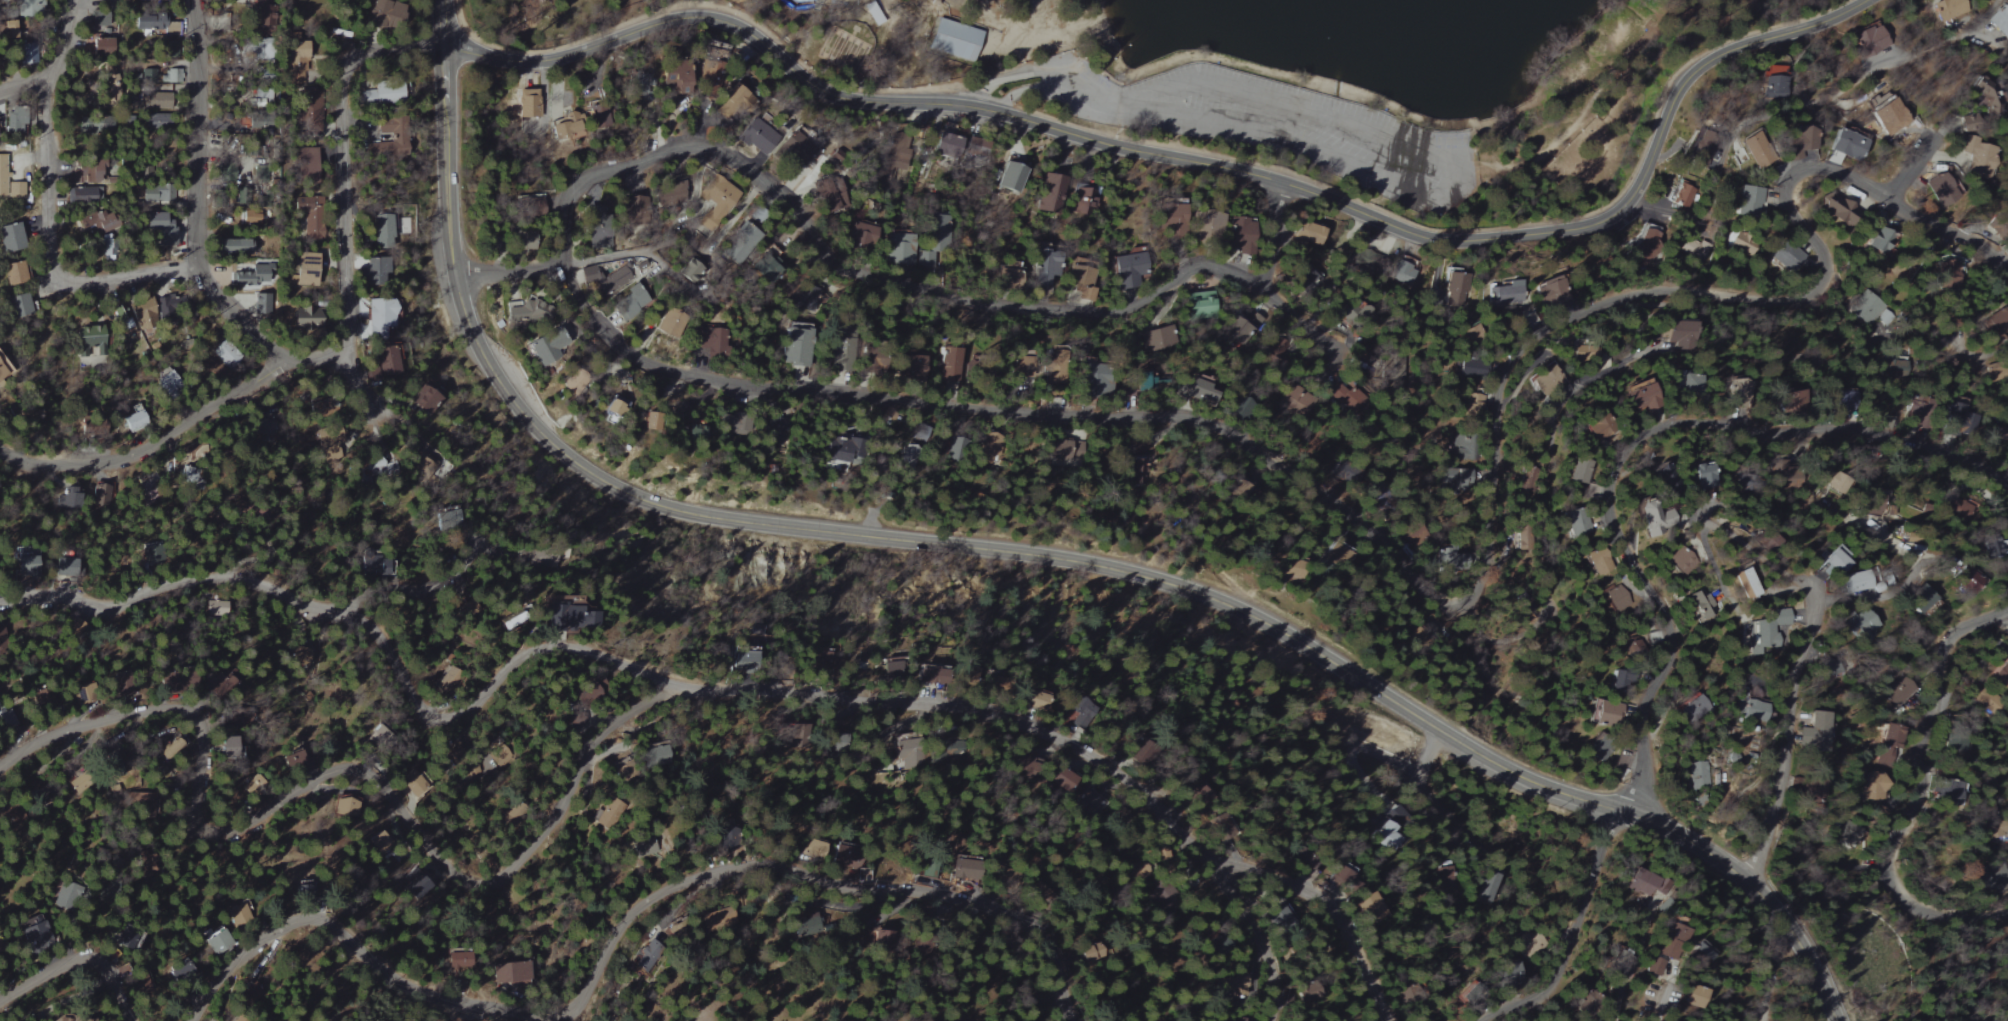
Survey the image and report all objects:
building: (158, 0)
building: (1949, 9)
building: (256, 11)
building: (384, 11)
road: (444, 19)
building: (2000, 20)
building: (96, 23)
building: (155, 24)
building: (955, 39)
building: (1869, 41)
building: (100, 47)
building: (293, 49)
road: (379, 51)
building: (26, 54)
building: (674, 73)
building: (152, 74)
road: (1043, 74)
building: (172, 76)
building: (709, 80)
park: (1272, 80)
road: (1597, 80)
building: (1775, 87)
road: (21, 89)
road: (1055, 90)
building: (380, 94)
building: (156, 98)
road: (1821, 98)
building: (1987, 99)
building: (525, 103)
building: (599, 117)
building: (1888, 117)
building: (15, 120)
building: (568, 125)
parking lot: (1259, 126)
road: (197, 133)
building: (757, 135)
building: (1806, 138)
building: (947, 142)
road: (1177, 145)
building: (392, 147)
building: (1846, 147)
building: (1699, 149)
building: (1757, 149)
road: (1194, 161)
building: (1983, 161)
road: (1465, 168)
building: (307, 170)
road: (1916, 171)
building: (84, 175)
road: (1450, 175)
building: (3, 176)
building: (16, 190)
building: (1941, 190)
building: (1053, 193)
building: (157, 194)
building: (84, 195)
building: (1683, 195)
building: (1085, 200)
building: (713, 202)
building: (1747, 202)
road: (46, 203)
building: (1836, 209)
building: (2003, 215)
building: (305, 218)
building: (1169, 220)
building: (97, 221)
building: (941, 226)
building: (1202, 226)
road: (344, 227)
building: (595, 227)
building: (158, 228)
building: (385, 230)
building: (1238, 233)
building: (746, 234)
road: (1271, 234)
building: (1306, 234)
building: (12, 237)
building: (1649, 240)
building: (1742, 242)
building: (1874, 242)
building: (234, 246)
building: (901, 249)
building: (1695, 250)
building: (1787, 256)
road: (609, 257)
building: (926, 260)
building: (1044, 268)
building: (1127, 268)
building: (371, 269)
building: (300, 270)
building: (1403, 272)
building: (1948, 272)
building: (17, 273)
road: (861, 274)
building: (250, 276)
building: (1081, 277)
building: (605, 278)
building: (1454, 290)
building: (1551, 292)
building: (1503, 294)
building: (629, 302)
building: (1199, 303)
building: (260, 304)
building: (22, 305)
building: (1864, 308)
building: (141, 310)
building: (525, 311)
building: (303, 317)
building: (380, 317)
building: (1883, 318)
road: (238, 320)
road: (1302, 320)
building: (669, 326)
building: (1678, 334)
building: (87, 339)
building: (1156, 339)
building: (710, 342)
building: (541, 346)
building: (795, 346)
building: (1585, 353)
building: (227, 355)
road: (317, 359)
building: (382, 363)
building: (950, 364)
building: (909, 366)
building: (1471, 369)
building: (1054, 372)
building: (2, 373)
building: (1140, 380)
building: (1544, 380)
building: (1690, 384)
building: (163, 385)
building: (1198, 391)
building: (1736, 391)
building: (1643, 398)
building: (1839, 399)
road: (366, 401)
building: (1918, 409)
building: (1958, 420)
building: (134, 421)
building: (723, 425)
building: (1603, 427)
building: (267, 431)
building: (680, 433)
building: (331, 437)
road: (152, 444)
building: (950, 444)
building: (989, 445)
building: (1462, 446)
building: (837, 450)
building: (376, 465)
building: (1581, 470)
building: (1138, 472)
building: (1530, 476)
building: (1703, 477)
building: (1456, 478)
building: (1664, 480)
building: (103, 495)
building: (71, 497)
building: (1871, 503)
building: (1960, 509)
building: (1652, 519)
building: (1577, 522)
road: (1725, 527)
building: (1416, 535)
building: (1525, 540)
building: (1338, 554)
road: (1045, 556)
building: (550, 557)
building: (1453, 559)
road: (1399, 561)
road: (1632, 562)
building: (1681, 562)
building: (1598, 563)
building: (1835, 563)
building: (23, 564)
building: (66, 566)
building: (377, 566)
road: (179, 582)
building: (1854, 583)
building: (1744, 584)
road: (432, 586)
building: (1617, 599)
building: (1921, 600)
building: (1701, 606)
building: (216, 607)
building: (1766, 630)
building: (1858, 630)
building: (743, 655)
building: (892, 671)
building: (2003, 674)
building: (929, 675)
building: (118, 678)
building: (1618, 681)
building: (175, 683)
building: (222, 686)
road: (773, 687)
building: (1080, 710)
building: (1689, 711)
building: (1747, 712)
building: (1603, 713)
road: (1788, 728)
building: (1811, 735)
building: (378, 736)
road: (1336, 739)
building: (837, 740)
building: (171, 746)
building: (230, 747)
building: (655, 754)
building: (912, 755)
building: (940, 758)
building: (292, 760)
road: (346, 768)
building: (623, 771)
building: (1690, 781)
building: (1064, 782)
building: (1871, 786)
building: (1807, 791)
road: (1921, 791)
building: (1949, 792)
building: (1090, 801)
building: (145, 804)
building: (344, 805)
building: (608, 814)
building: (1387, 836)
building: (644, 848)
building: (1345, 878)
building: (1637, 882)
building: (1982, 883)
building: (1491, 887)
building: (1369, 909)
road: (1335, 910)
building: (1278, 913)
building: (724, 919)
road: (630, 923)
building: (810, 923)
building: (32, 934)
building: (126, 939)
road: (1259, 942)
building: (1667, 946)
building: (1701, 953)
building: (646, 955)
building: (460, 959)
road: (80, 960)
road: (1769, 968)
building: (513, 971)
building: (1477, 995)
building: (1691, 996)
road: (1666, 1006)
building: (240, 1019)
building: (68, 1020)

